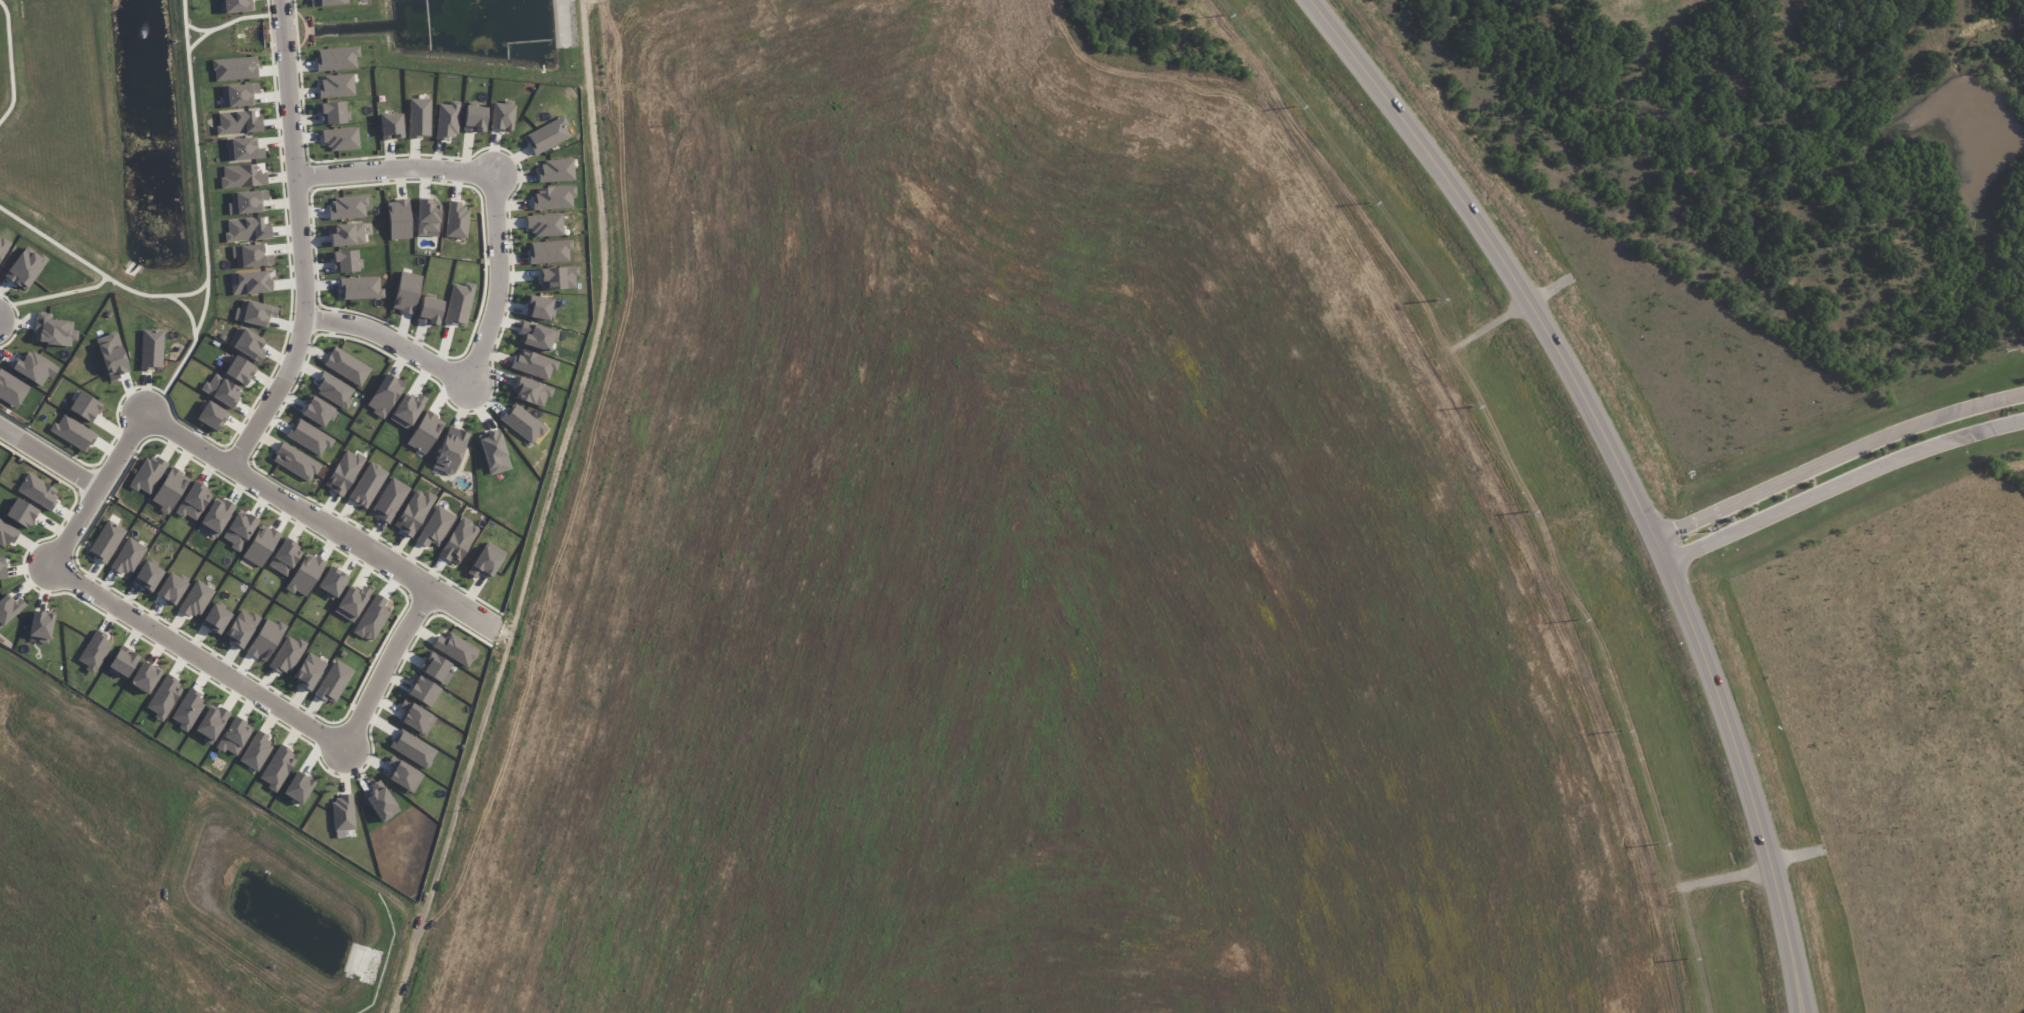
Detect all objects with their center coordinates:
building: (328, 2)
building: (236, 6)
road: (284, 46)
building: (337, 58)
building: (235, 68)
building: (336, 86)
building: (239, 94)
building: (334, 113)
building: (502, 116)
building: (419, 118)
building: (474, 119)
building: (447, 120)
building: (238, 122)
building: (391, 126)
building: (547, 135)
park: (108, 137)
building: (341, 139)
building: (243, 149)
building: (555, 171)
building: (243, 176)
building: (552, 197)
building: (246, 202)
building: (347, 207)
building: (427, 217)
building: (398, 219)
building: (456, 220)
building: (544, 225)
building: (247, 229)
building: (347, 234)
building: (3, 247)
building: (548, 252)
building: (251, 256)
building: (346, 261)
building: (25, 268)
road: (501, 271)
building: (558, 278)
building: (251, 282)
building: (360, 288)
road: (305, 289)
building: (406, 292)
building: (458, 304)
building: (539, 308)
building: (429, 311)
building: (254, 313)
building: (53, 331)
building: (536, 336)
building: (247, 344)
building: (151, 349)
building: (112, 356)
building: (533, 364)
building: (347, 367)
building: (35, 368)
building: (240, 370)
building: (12, 389)
building: (333, 389)
building: (221, 390)
building: (531, 392)
building: (384, 396)
building: (85, 407)
building: (318, 411)
building: (407, 411)
building: (211, 416)
building: (522, 423)
building: (425, 432)
building: (73, 433)
building: (309, 437)
road: (1847, 450)
building: (450, 451)
building: (494, 452)
road: (50, 458)
building: (295, 462)
building: (344, 473)
building: (147, 474)
road: (1621, 475)
road: (1841, 481)
building: (367, 485)
building: (169, 490)
building: (38, 491)
building: (390, 500)
building: (193, 502)
building: (22, 513)
building: (414, 513)
building: (217, 516)
road: (323, 522)
building: (435, 527)
building: (239, 530)
road: (1666, 531)
building: (7, 534)
building: (106, 541)
building: (458, 541)
building: (261, 545)
building: (128, 557)
building: (285, 557)
building: (486, 561)
building: (2, 569)
building: (148, 575)
building: (305, 575)
building: (333, 582)
building: (171, 588)
building: (196, 599)
building: (352, 603)
building: (9, 609)
building: (372, 618)
building: (215, 619)
building: (41, 626)
building: (241, 628)
building: (265, 640)
building: (455, 648)
building: (94, 652)
building: (287, 655)
road: (202, 659)
building: (123, 661)
building: (434, 667)
building: (309, 671)
building: (145, 677)
building: (333, 682)
building: (423, 691)
building: (164, 697)
building: (188, 710)
building: (415, 717)
building: (211, 723)
building: (234, 737)
building: (412, 749)
building: (256, 752)
building: (277, 768)
building: (403, 775)
building: (298, 788)
building: (381, 801)
building: (342, 813)

